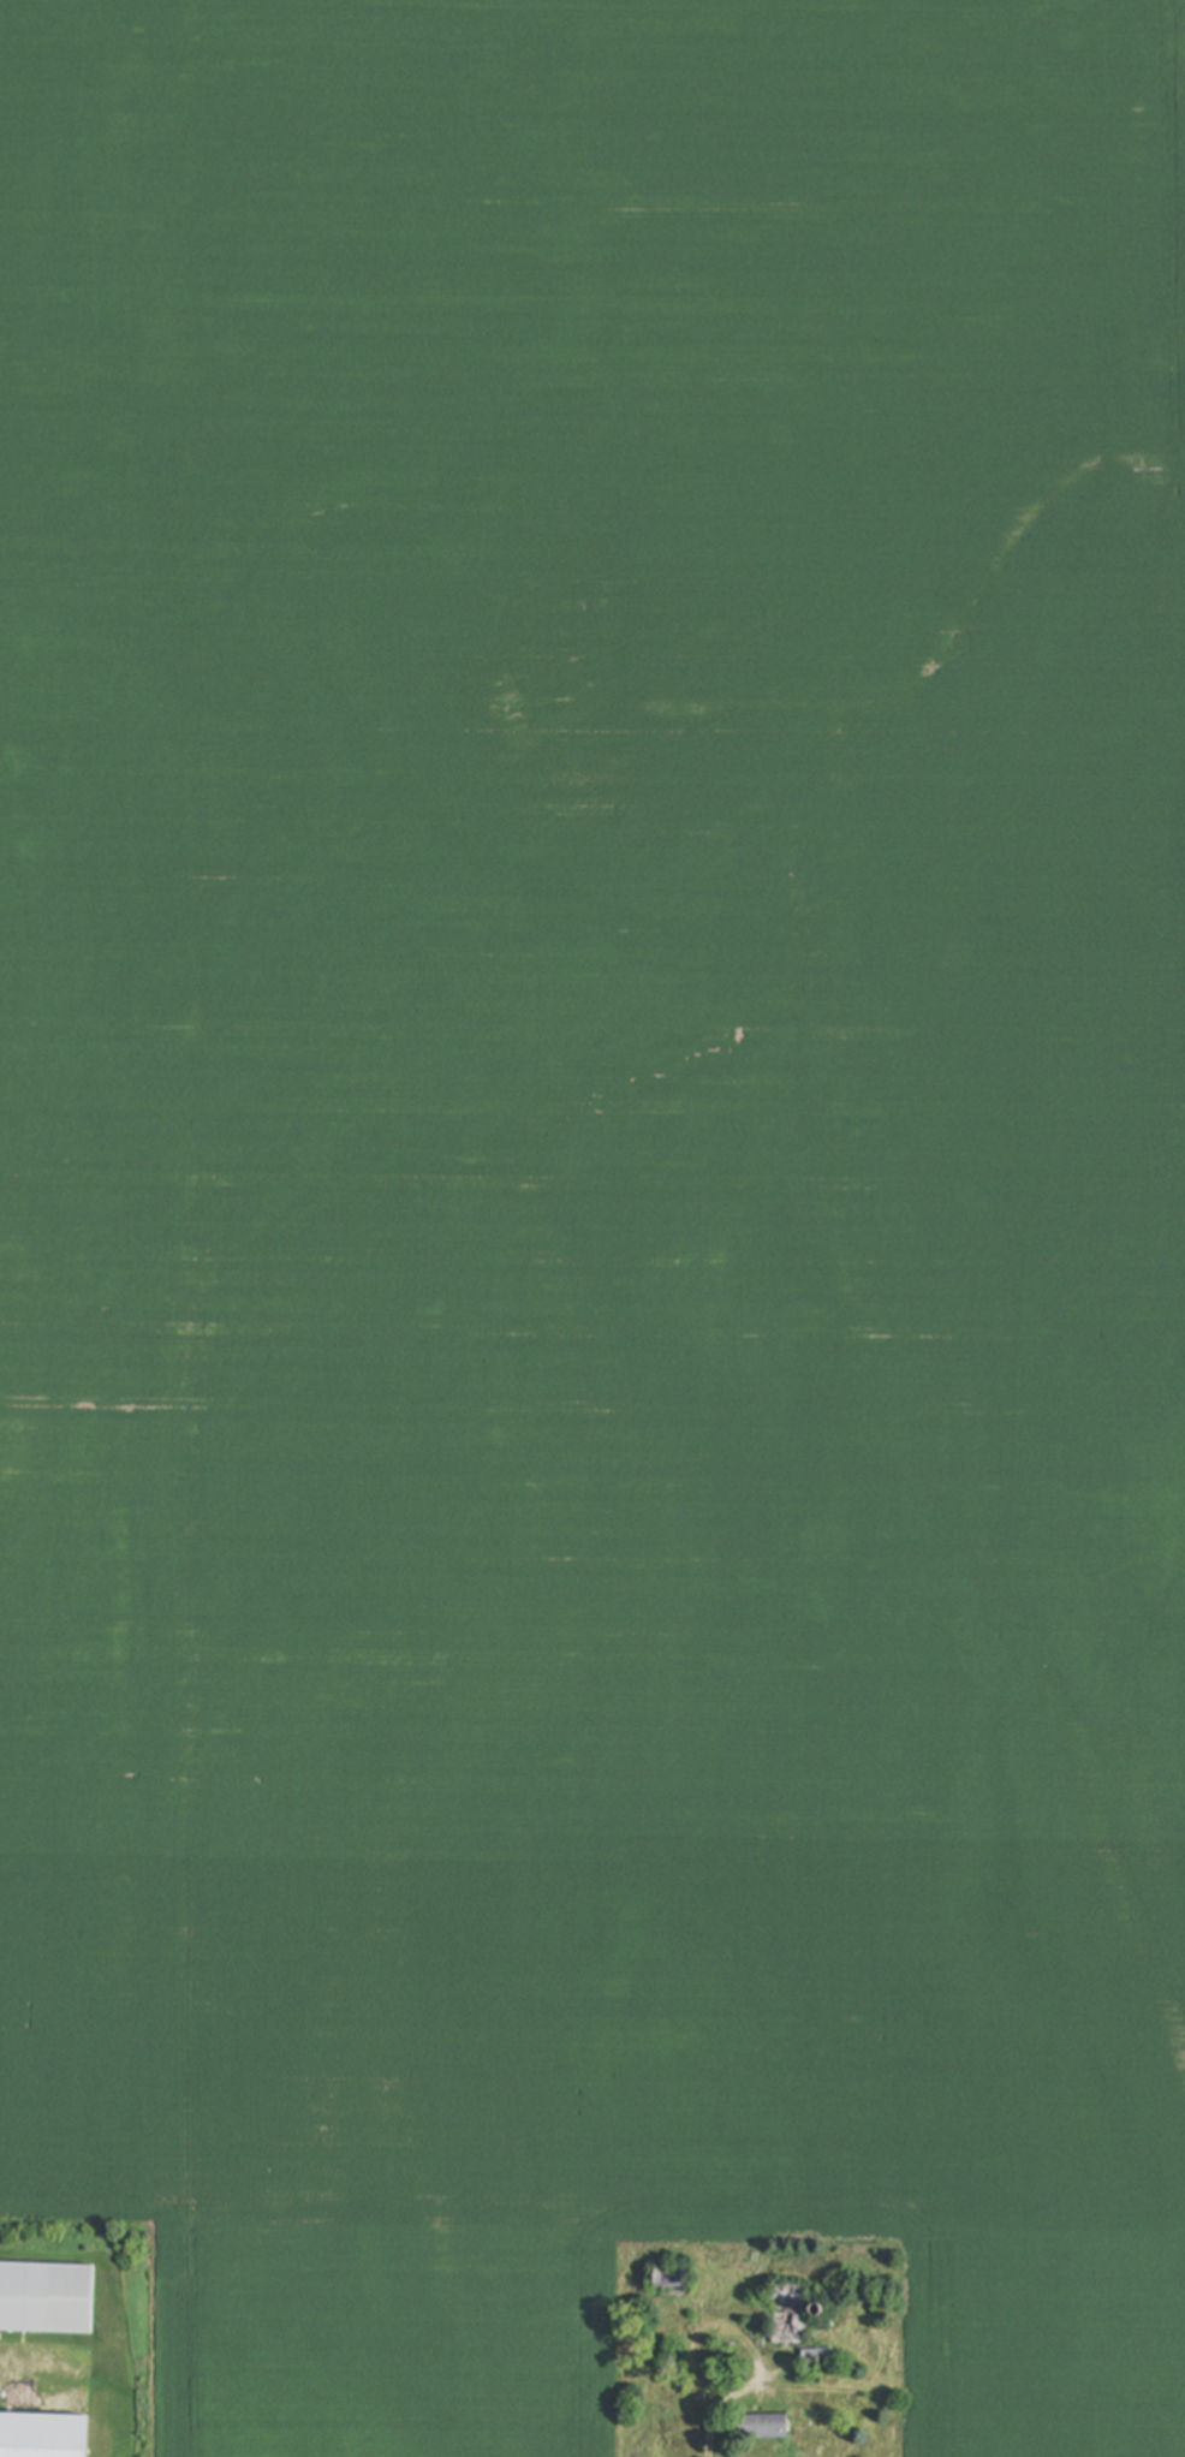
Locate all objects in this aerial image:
building: (673, 2277)
building: (47, 2298)
building: (792, 2315)
road: (733, 2330)
building: (766, 2427)
road: (711, 2435)
building: (44, 2437)

